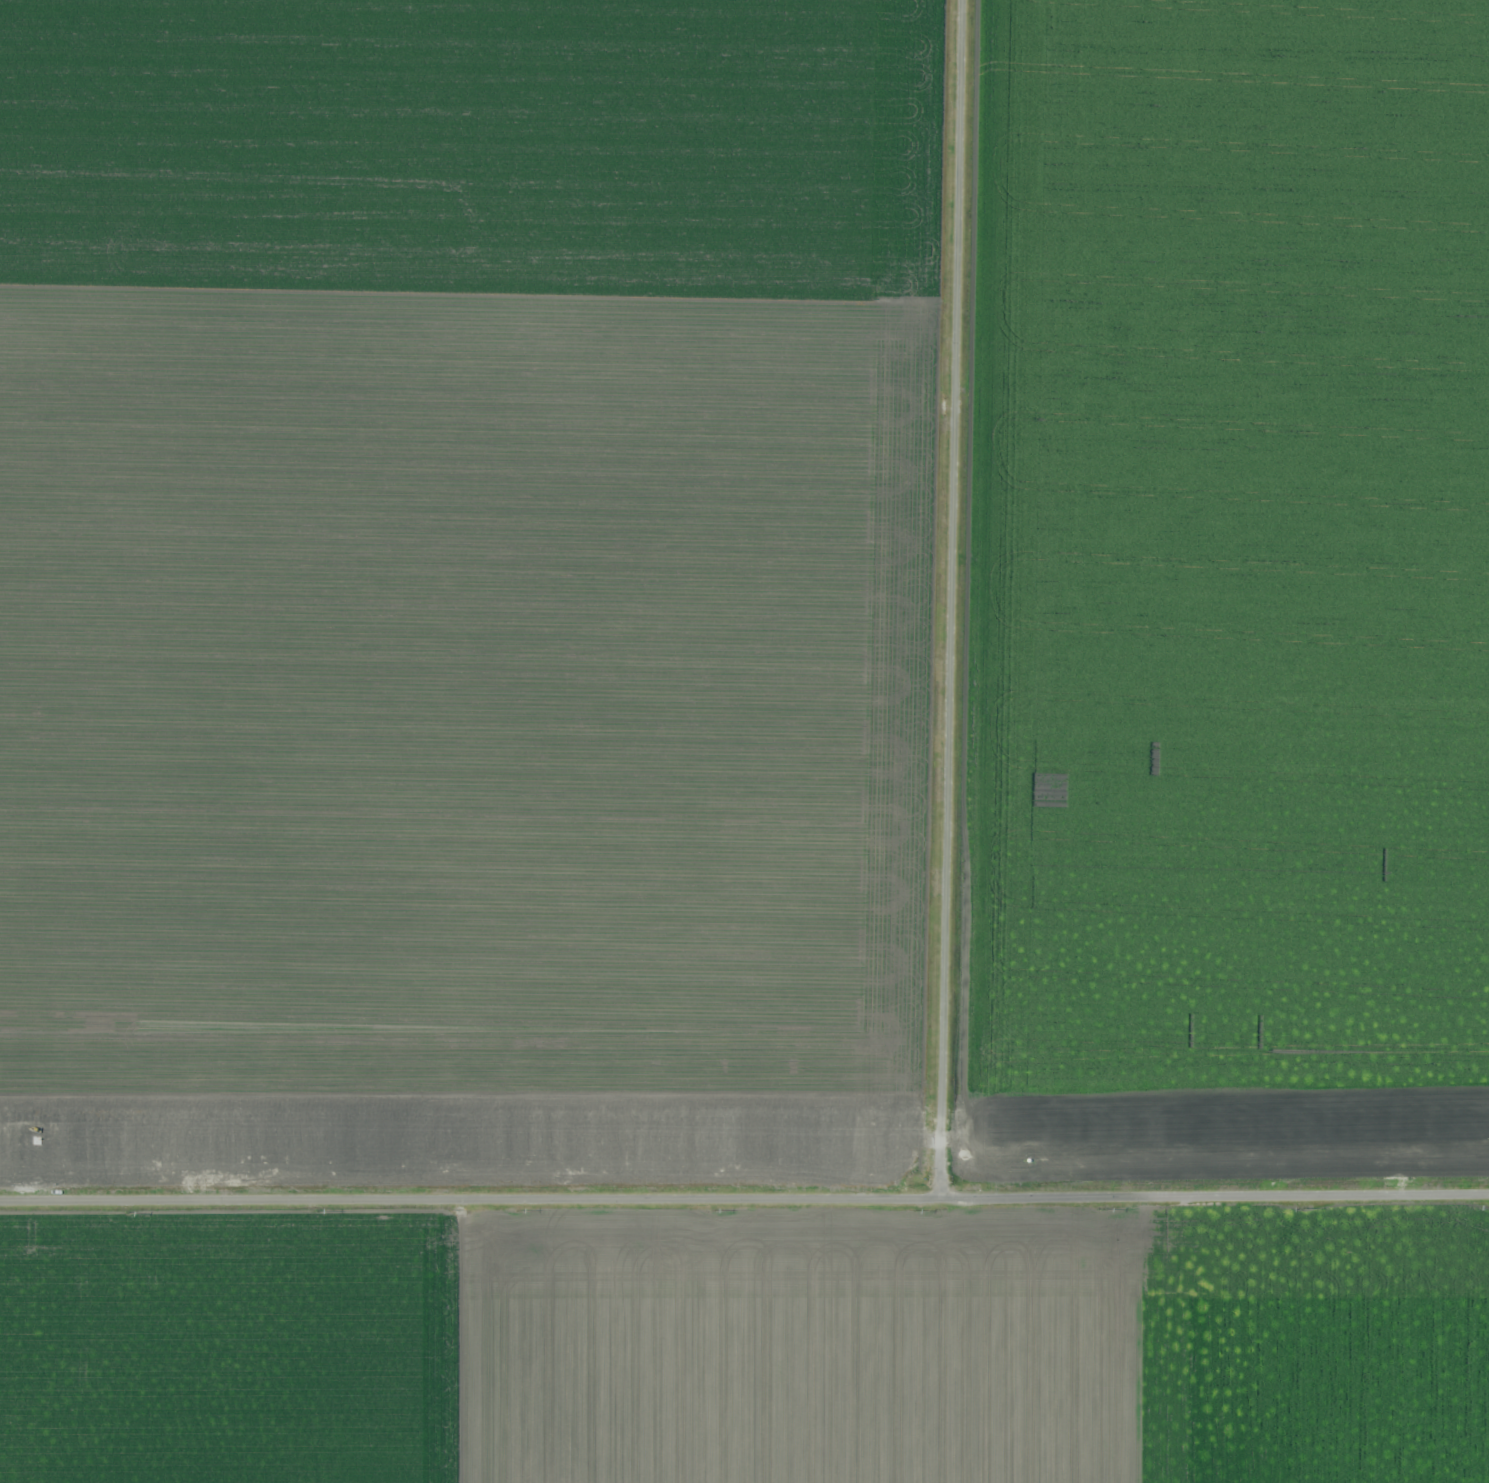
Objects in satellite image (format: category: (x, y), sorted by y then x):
road: (951, 598)
road: (1214, 1195)
road: (469, 1197)

